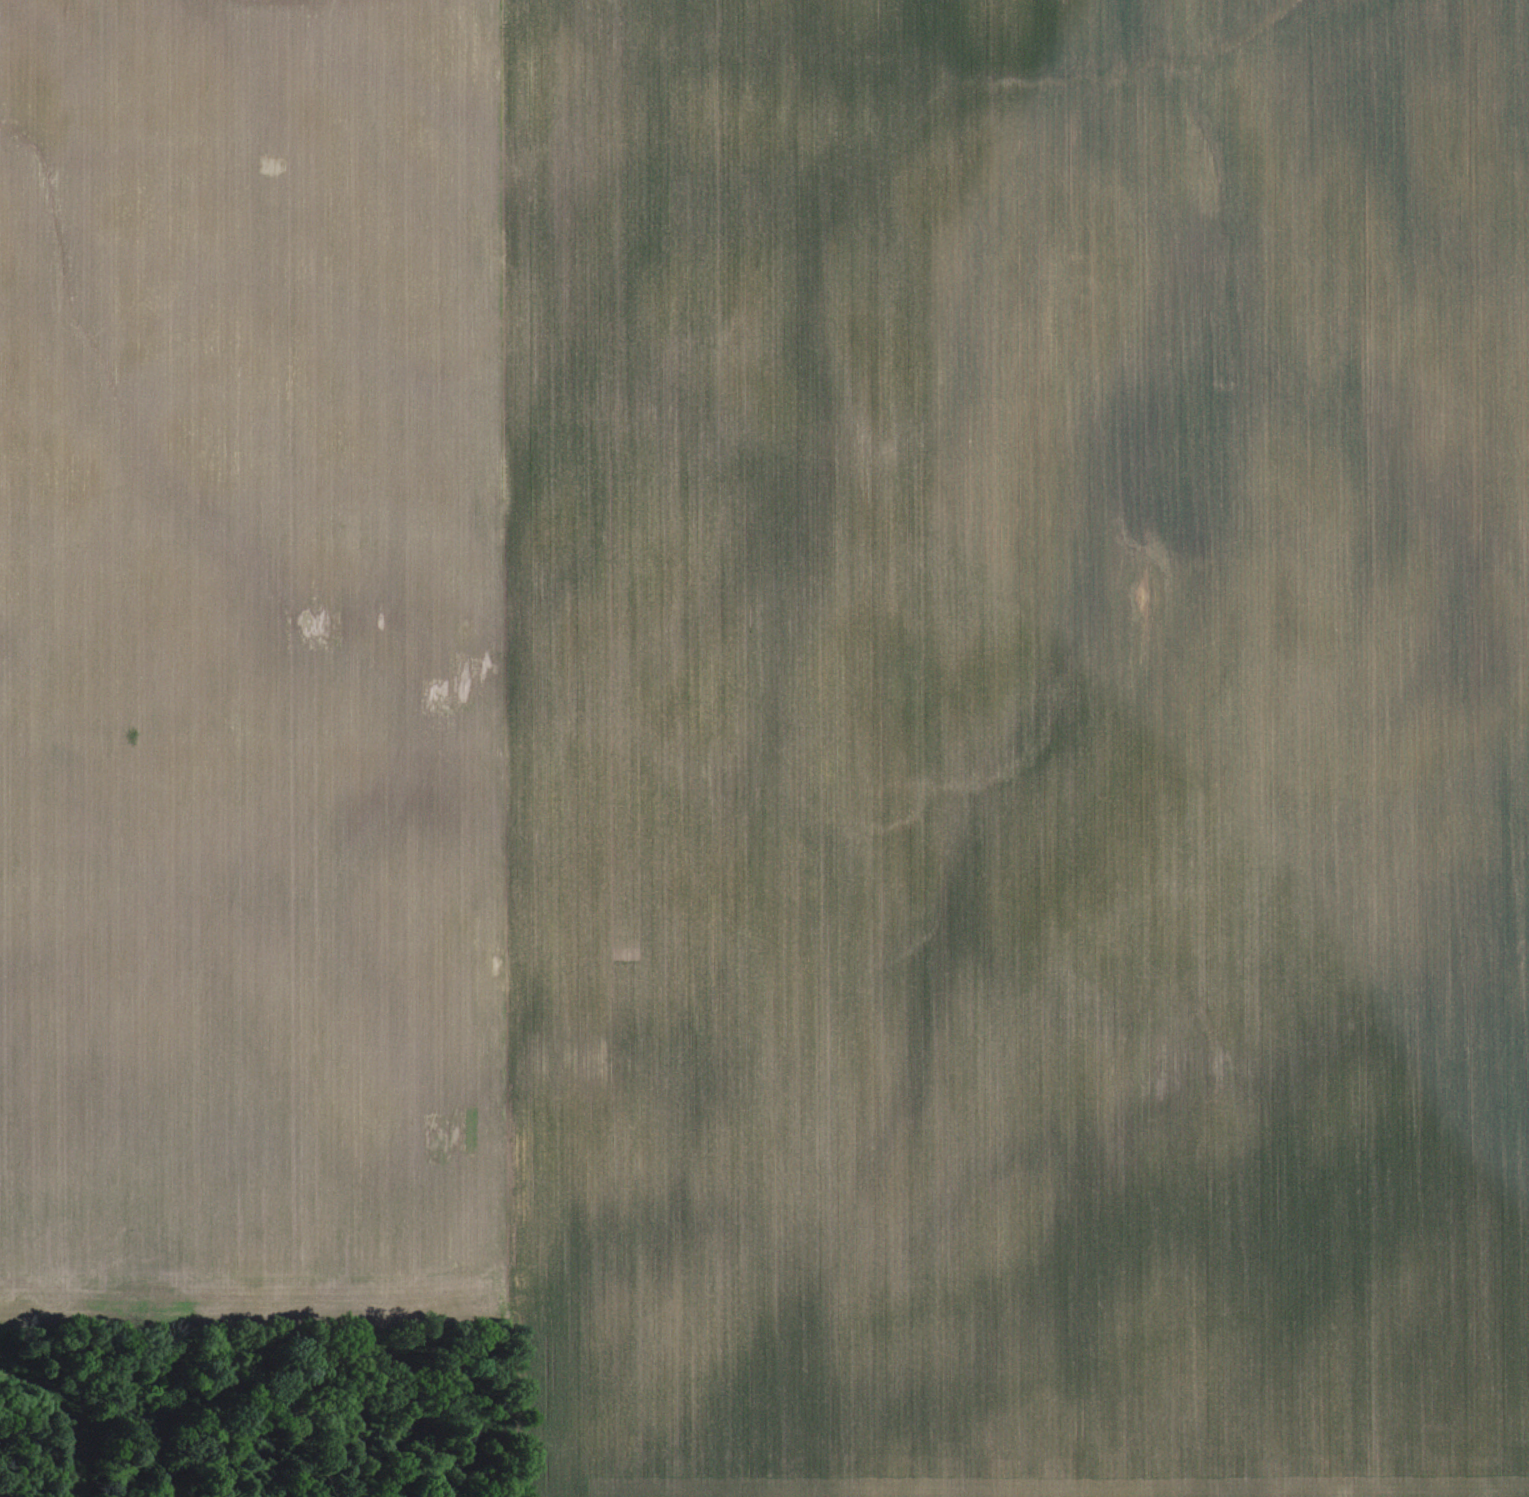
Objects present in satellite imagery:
crop: (243, 654)
crop: (1018, 748)

